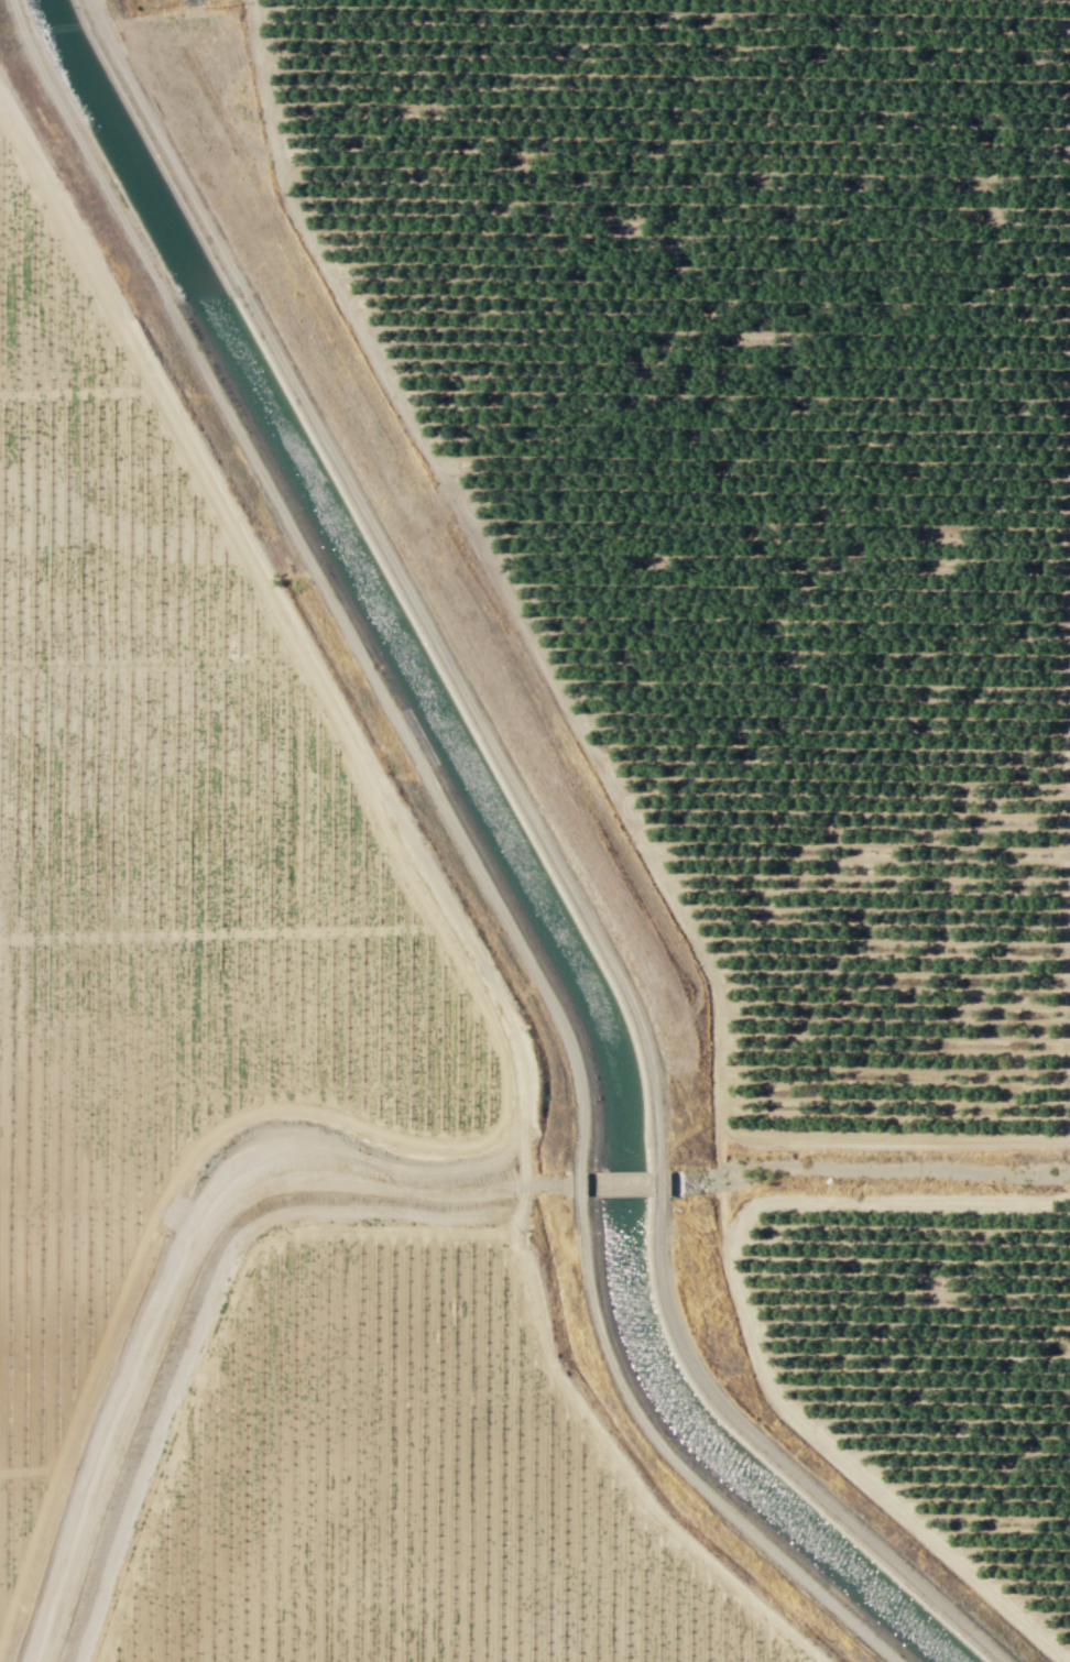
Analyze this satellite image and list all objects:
road: (570, 718)
road: (552, 854)
road: (117, 867)
road: (1068, 940)
road: (491, 982)
crop: (255, 1105)
road: (747, 1336)
road: (589, 1433)

